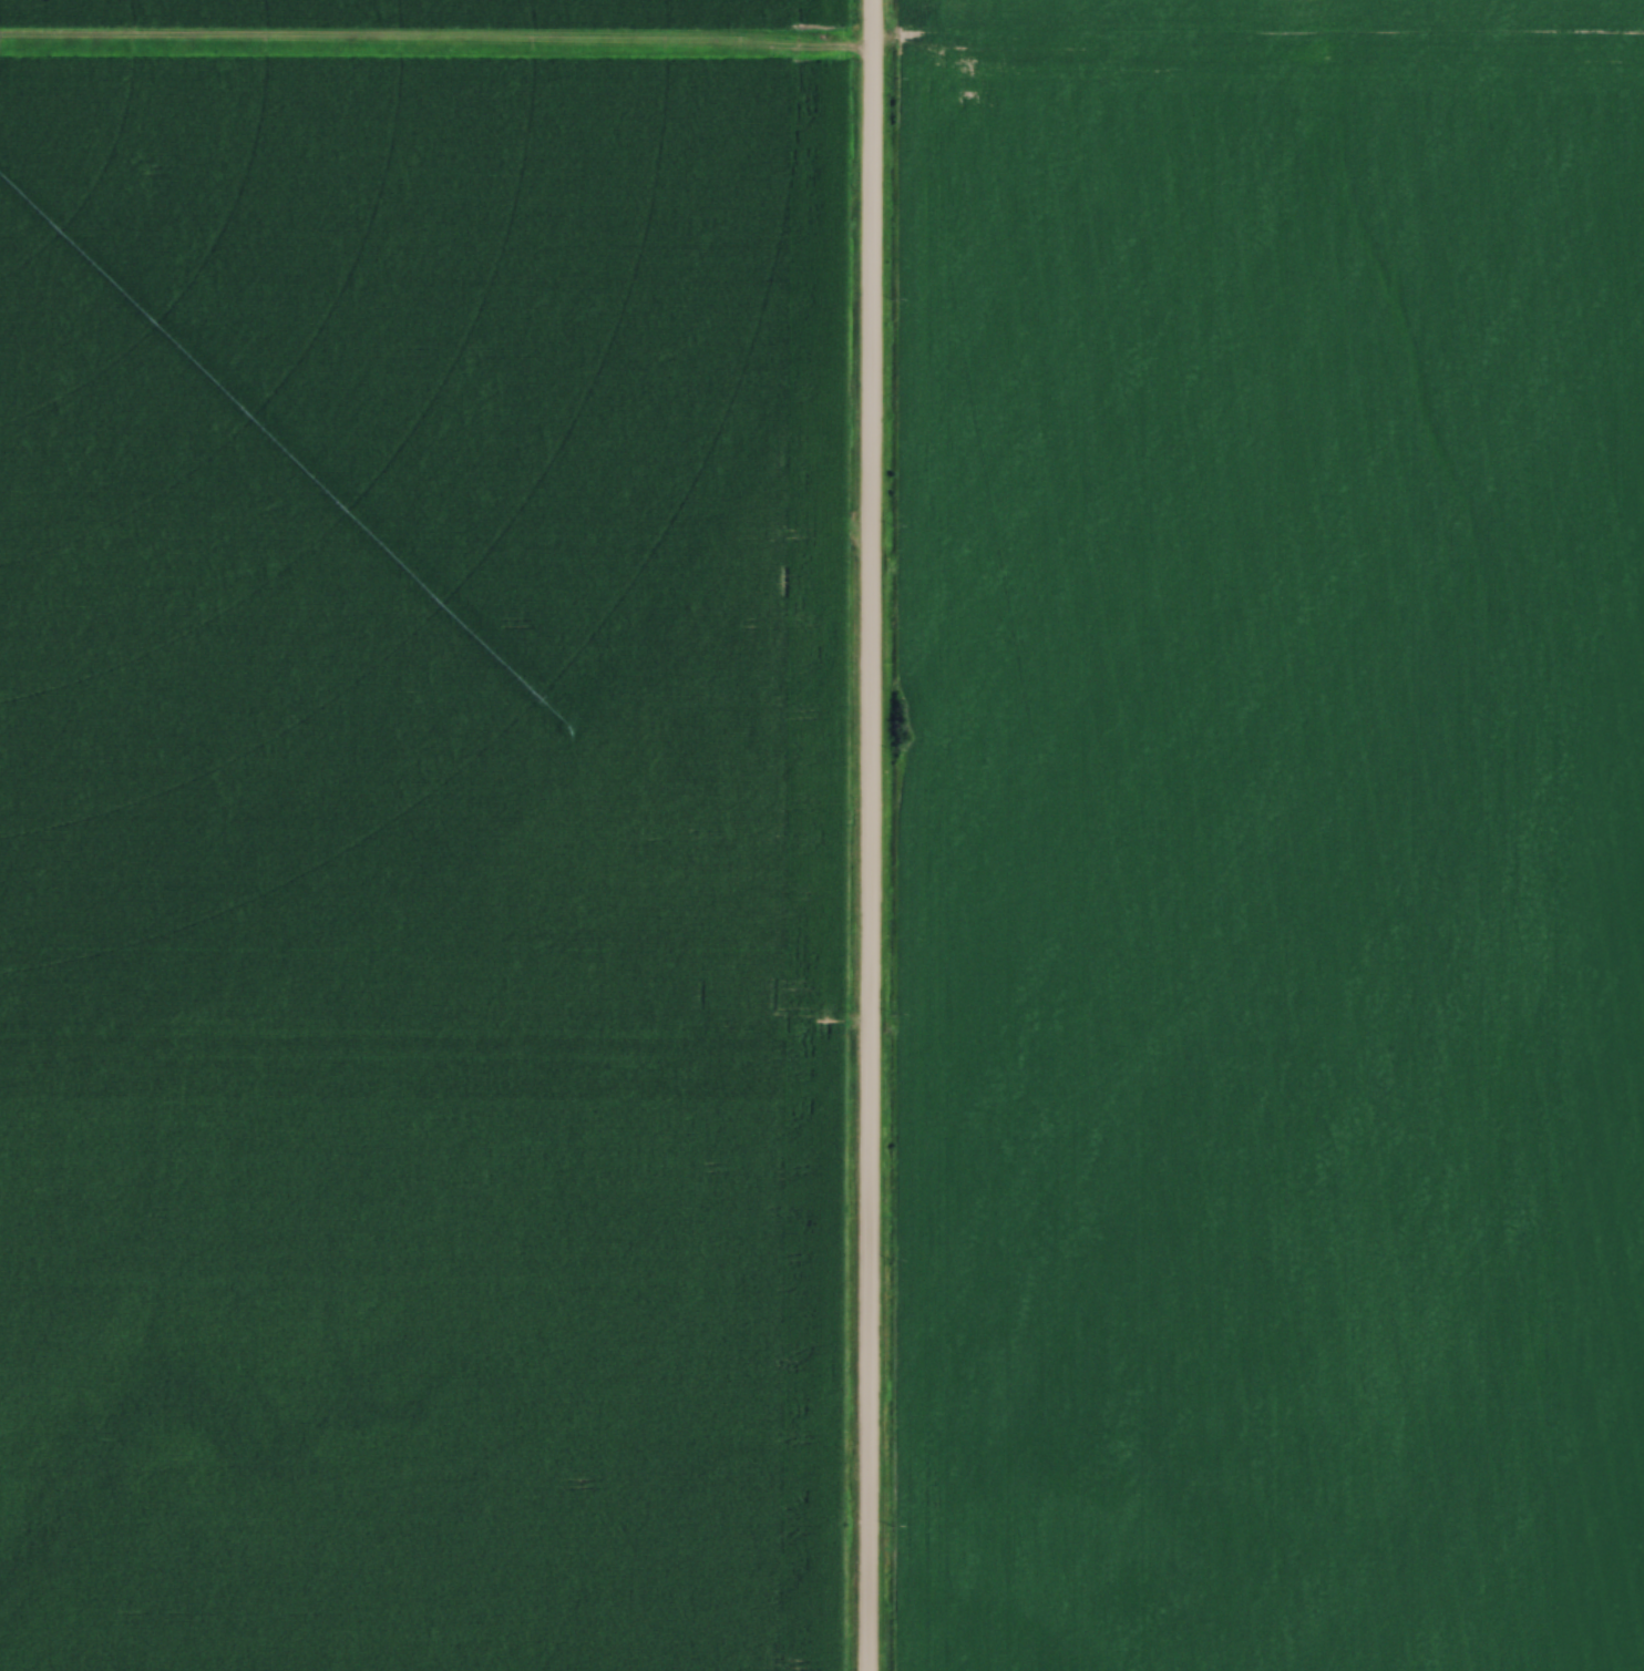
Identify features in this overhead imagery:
road: (869, 835)

